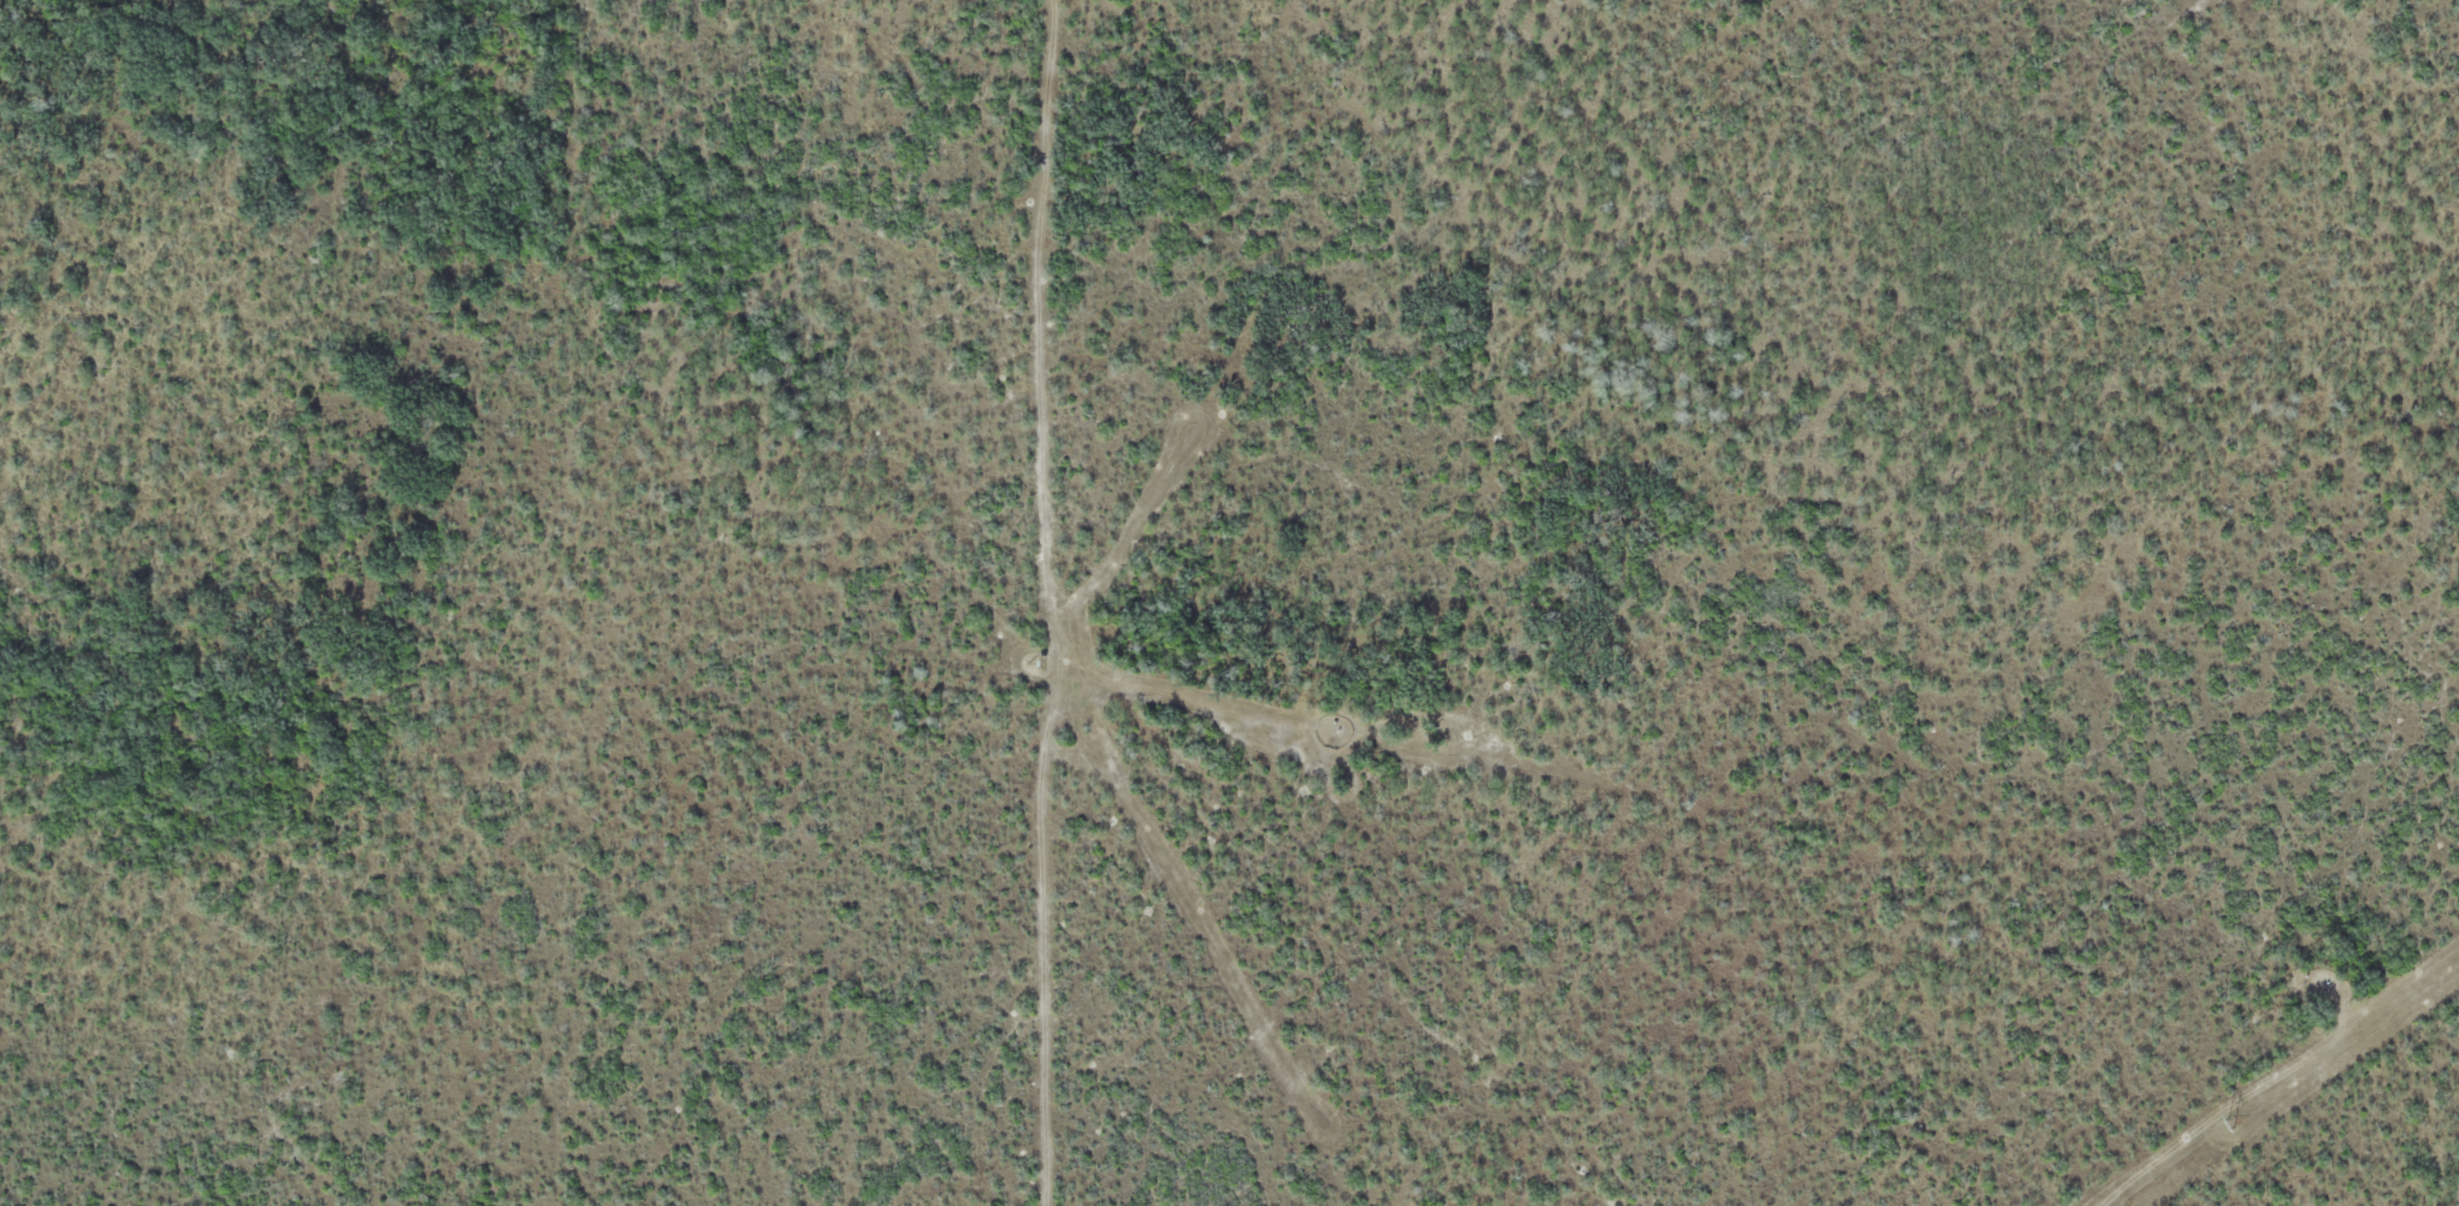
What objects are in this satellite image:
power tower: (2232, 1122)

